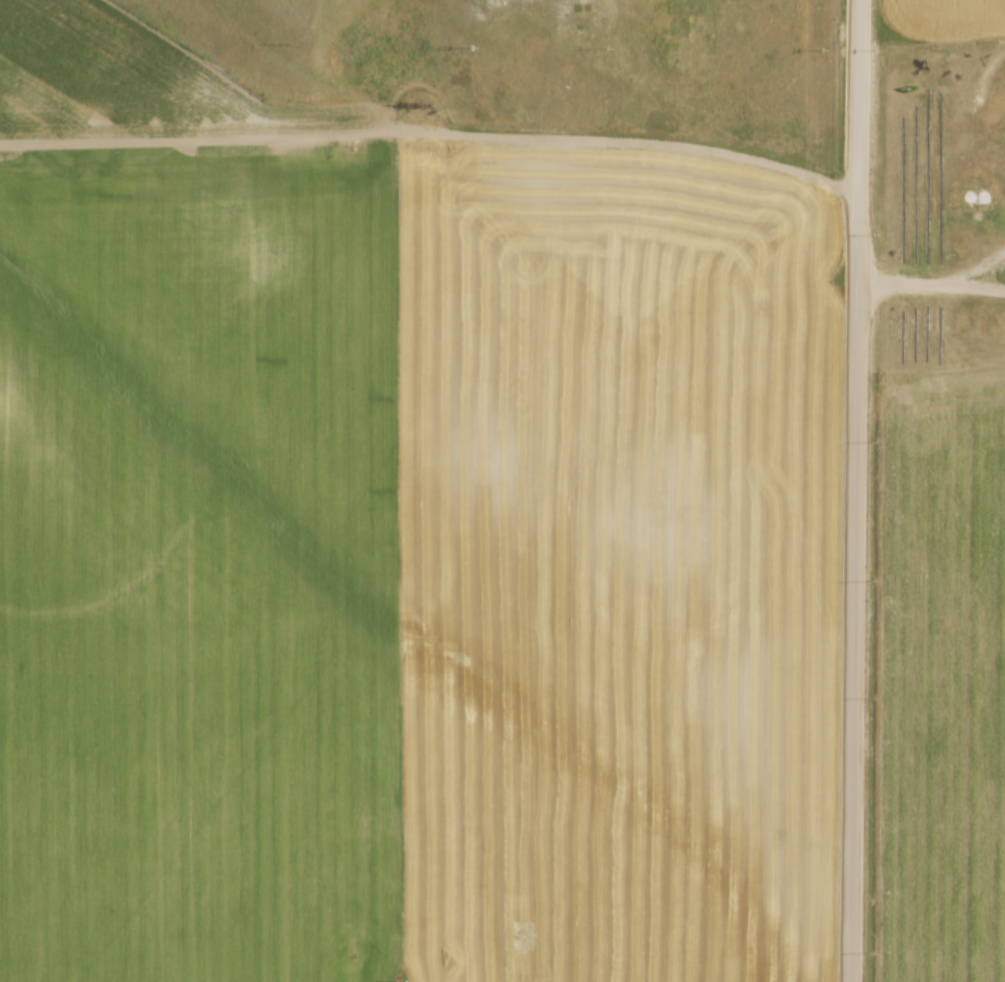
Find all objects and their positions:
petroleum well: (434, 120)
road: (436, 141)
road: (990, 279)
road: (934, 288)
road: (860, 490)

